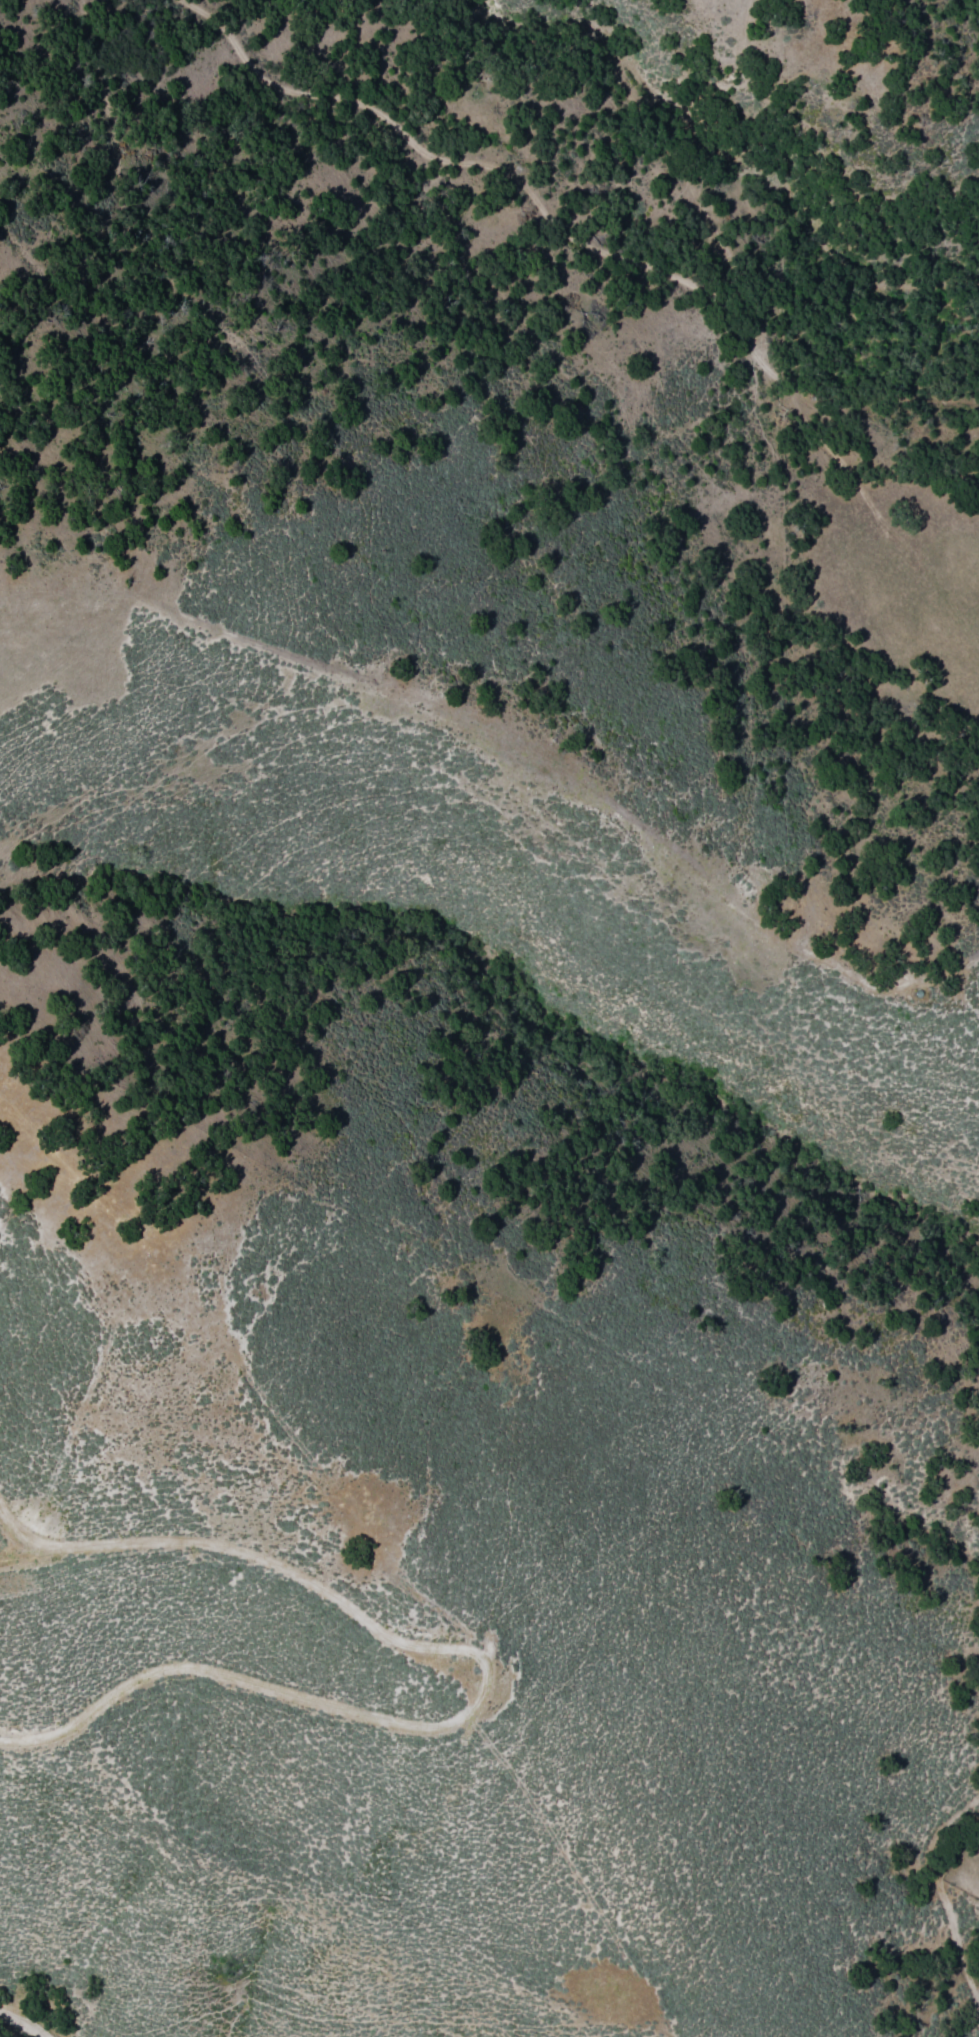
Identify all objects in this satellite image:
road: (556, 233)
road: (471, 1684)
road: (14, 2027)

